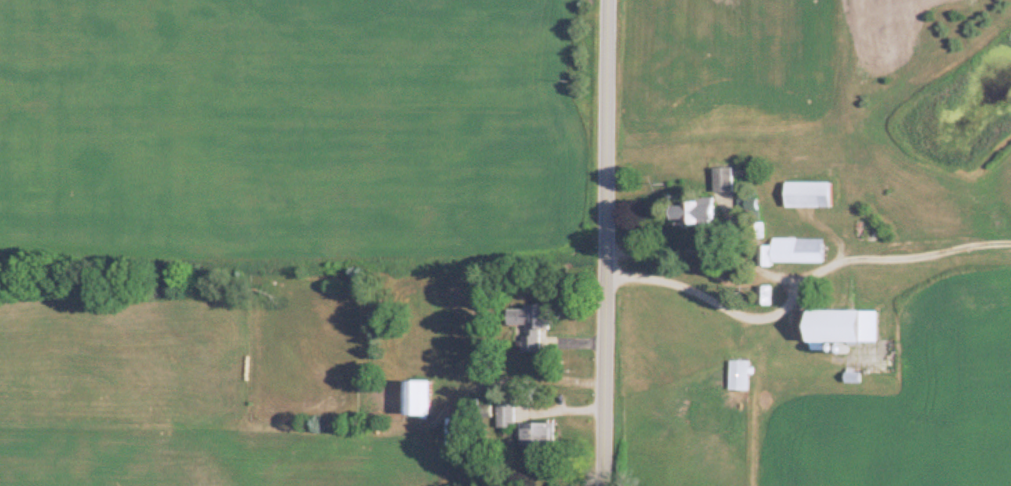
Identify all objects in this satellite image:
building: (723, 180)
building: (805, 195)
building: (690, 210)
road: (600, 243)
building: (792, 251)
road: (707, 296)
building: (836, 326)
building: (524, 328)
building: (736, 375)
building: (412, 398)
building: (505, 416)
building: (536, 433)

